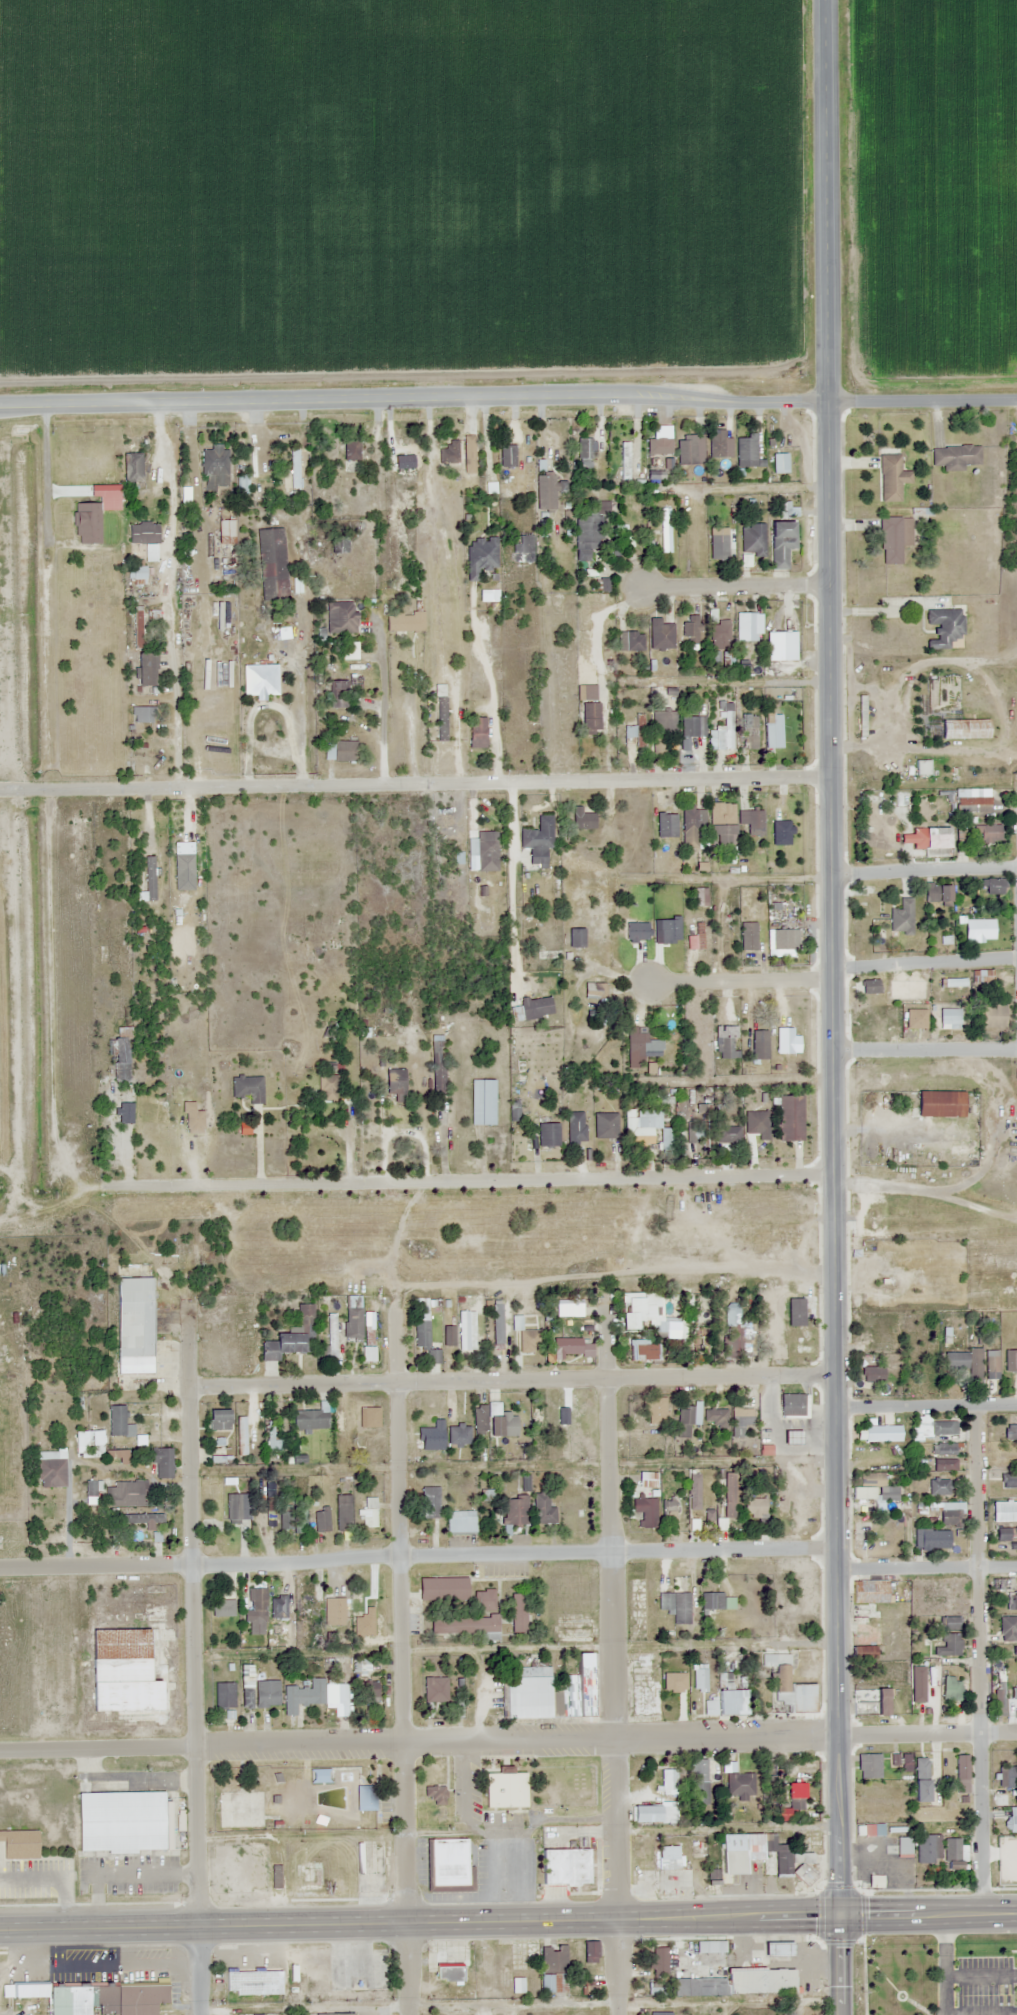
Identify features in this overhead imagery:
road: (825, 201)
road: (508, 408)
building: (719, 444)
building: (699, 449)
building: (584, 450)
building: (745, 450)
building: (448, 451)
building: (658, 451)
building: (351, 455)
building: (403, 455)
building: (506, 455)
building: (954, 456)
building: (625, 459)
building: (468, 461)
building: (779, 463)
building: (215, 465)
building: (131, 467)
building: (294, 468)
building: (891, 478)
building: (545, 492)
building: (664, 529)
building: (143, 532)
building: (225, 532)
building: (585, 536)
building: (894, 537)
building: (752, 540)
building: (780, 543)
building: (717, 546)
building: (522, 548)
building: (480, 555)
building: (272, 562)
building: (137, 574)
building: (602, 584)
road: (735, 586)
road: (829, 589)
building: (221, 615)
building: (340, 617)
building: (790, 620)
building: (404, 622)
building: (748, 626)
building: (943, 626)
building: (137, 627)
building: (690, 630)
building: (661, 634)
building: (719, 634)
building: (629, 641)
building: (144, 669)
building: (259, 679)
road: (172, 687)
building: (337, 693)
building: (589, 709)
building: (141, 714)
building: (441, 718)
building: (663, 723)
building: (692, 726)
building: (725, 728)
building: (963, 728)
road: (382, 731)
building: (634, 731)
building: (748, 731)
building: (773, 731)
building: (476, 732)
building: (337, 750)
building: (922, 767)
road: (415, 783)
building: (970, 802)
building: (581, 818)
building: (693, 820)
building: (752, 821)
building: (722, 823)
building: (666, 825)
building: (780, 832)
building: (987, 832)
road: (516, 838)
building: (927, 838)
building: (537, 839)
building: (482, 844)
road: (923, 868)
building: (993, 886)
building: (937, 892)
building: (725, 911)
building: (902, 916)
building: (630, 922)
building: (978, 930)
building: (747, 935)
building: (575, 937)
building: (781, 939)
building: (699, 941)
road: (923, 961)
building: (981, 977)
road: (739, 981)
building: (952, 982)
building: (869, 986)
railway: (26, 1007)
building: (532, 1008)
building: (992, 1016)
building: (917, 1017)
building: (948, 1018)
building: (759, 1045)
building: (723, 1047)
building: (635, 1049)
road: (925, 1049)
building: (124, 1054)
building: (436, 1058)
building: (395, 1083)
building: (329, 1085)
building: (249, 1089)
building: (185, 1094)
building: (482, 1102)
building: (939, 1103)
building: (789, 1117)
building: (756, 1124)
building: (605, 1125)
building: (575, 1127)
building: (639, 1128)
building: (727, 1134)
building: (547, 1135)
building: (706, 1138)
road: (468, 1180)
railway: (508, 1223)
road: (614, 1273)
building: (575, 1309)
building: (647, 1315)
building: (351, 1321)
building: (496, 1323)
building: (132, 1325)
building: (525, 1333)
building: (331, 1335)
building: (290, 1336)
building: (738, 1339)
building: (423, 1340)
road: (834, 1345)
building: (566, 1346)
building: (643, 1352)
building: (367, 1353)
building: (925, 1356)
building: (1010, 1359)
building: (965, 1363)
building: (871, 1373)
road: (510, 1379)
road: (926, 1404)
building: (791, 1405)
building: (654, 1409)
building: (562, 1415)
building: (535, 1416)
building: (310, 1417)
building: (714, 1417)
building: (218, 1419)
building: (685, 1419)
building: (115, 1420)
building: (494, 1420)
building: (740, 1421)
building: (579, 1422)
building: (933, 1428)
building: (1010, 1431)
building: (245, 1432)
building: (882, 1432)
building: (431, 1434)
building: (269, 1436)
building: (790, 1436)
building: (944, 1448)
building: (221, 1459)
building: (161, 1461)
building: (943, 1464)
building: (50, 1472)
building: (1009, 1479)
building: (643, 1480)
building: (938, 1486)
building: (91, 1488)
building: (693, 1491)
building: (870, 1492)
building: (125, 1493)
building: (728, 1494)
building: (216, 1502)
building: (429, 1502)
building: (237, 1507)
building: (754, 1507)
building: (541, 1509)
building: (514, 1510)
building: (644, 1510)
building: (667, 1510)
building: (343, 1511)
building: (1004, 1511)
building: (142, 1517)
building: (366, 1517)
building: (293, 1518)
building: (320, 1518)
building: (459, 1521)
building: (944, 1526)
building: (1006, 1533)
building: (151, 1536)
road: (417, 1554)
road: (926, 1566)
building: (441, 1588)
building: (868, 1591)
building: (484, 1599)
building: (711, 1600)
building: (1010, 1600)
road: (610, 1604)
building: (675, 1605)
building: (278, 1606)
building: (222, 1607)
building: (307, 1607)
building: (255, 1611)
building: (336, 1611)
building: (517, 1612)
building: (1003, 1621)
building: (364, 1622)
building: (949, 1622)
building: (462, 1624)
building: (947, 1645)
road: (399, 1650)
building: (862, 1651)
road: (192, 1657)
road: (979, 1657)
building: (121, 1670)
building: (699, 1678)
building: (244, 1687)
building: (950, 1687)
building: (435, 1689)
building: (790, 1689)
building: (547, 1690)
building: (367, 1691)
building: (266, 1693)
building: (316, 1695)
building: (223, 1696)
building: (725, 1697)
building: (868, 1700)
building: (1003, 1702)
road: (927, 1733)
road: (418, 1740)
building: (901, 1760)
building: (867, 1765)
building: (961, 1773)
building: (319, 1775)
building: (1003, 1776)
building: (687, 1779)
building: (919, 1779)
building: (739, 1785)
building: (504, 1788)
building: (433, 1794)
building: (794, 1795)
building: (365, 1797)
building: (238, 1808)
building: (652, 1813)
building: (1011, 1820)
building: (121, 1821)
building: (872, 1829)
building: (21, 1844)
building: (902, 1845)
building: (926, 1847)
building: (667, 1852)
building: (951, 1852)
building: (760, 1855)
building: (447, 1864)
building: (562, 1866)
building: (1004, 1870)
traffic signals: (842, 1913)
road: (929, 1913)
road: (420, 1920)
building: (588, 1951)
building: (658, 1961)
road: (841, 1964)
road: (614, 1967)
building: (553, 1968)
building: (445, 1969)
building: (252, 1982)
building: (737, 1982)
building: (655, 1989)
building: (33, 1991)
building: (107, 1998)
building: (662, 2013)
building: (335, 2014)
building: (568, 2014)

